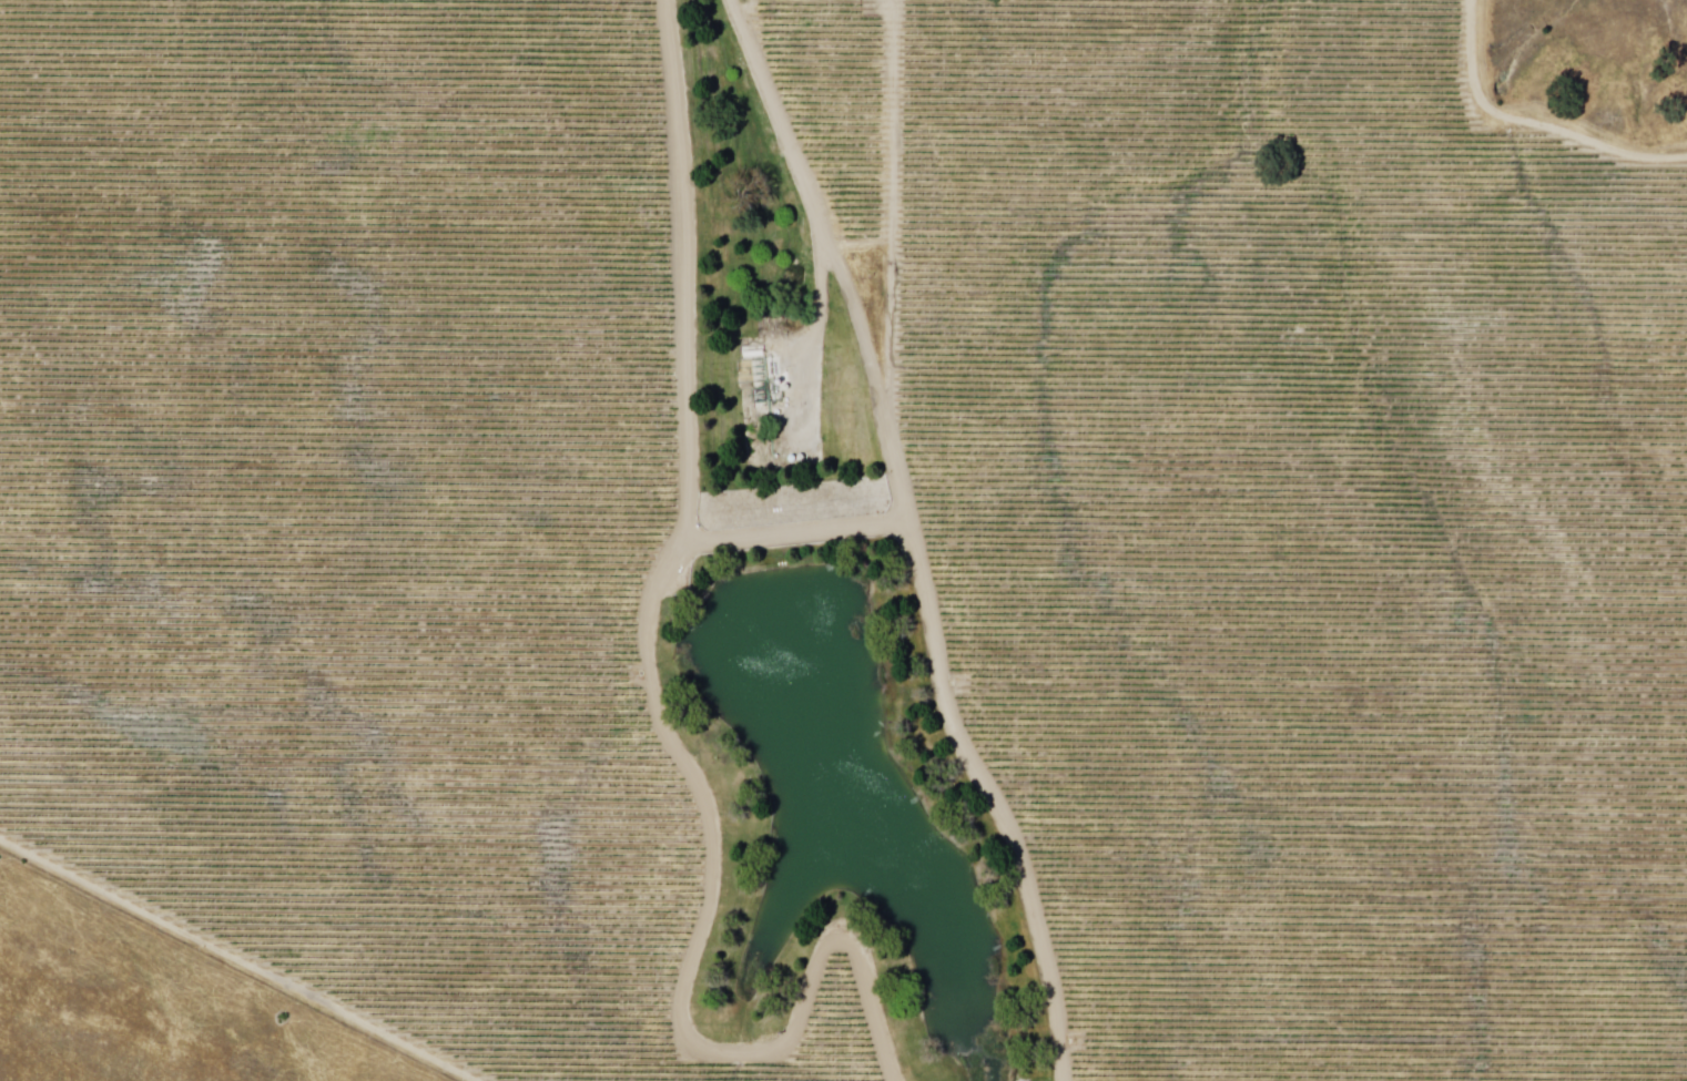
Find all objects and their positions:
road: (1533, 122)
road: (890, 216)
building: (764, 376)
road: (806, 379)
road: (795, 534)
road: (908, 537)
road: (662, 716)
road: (234, 961)

